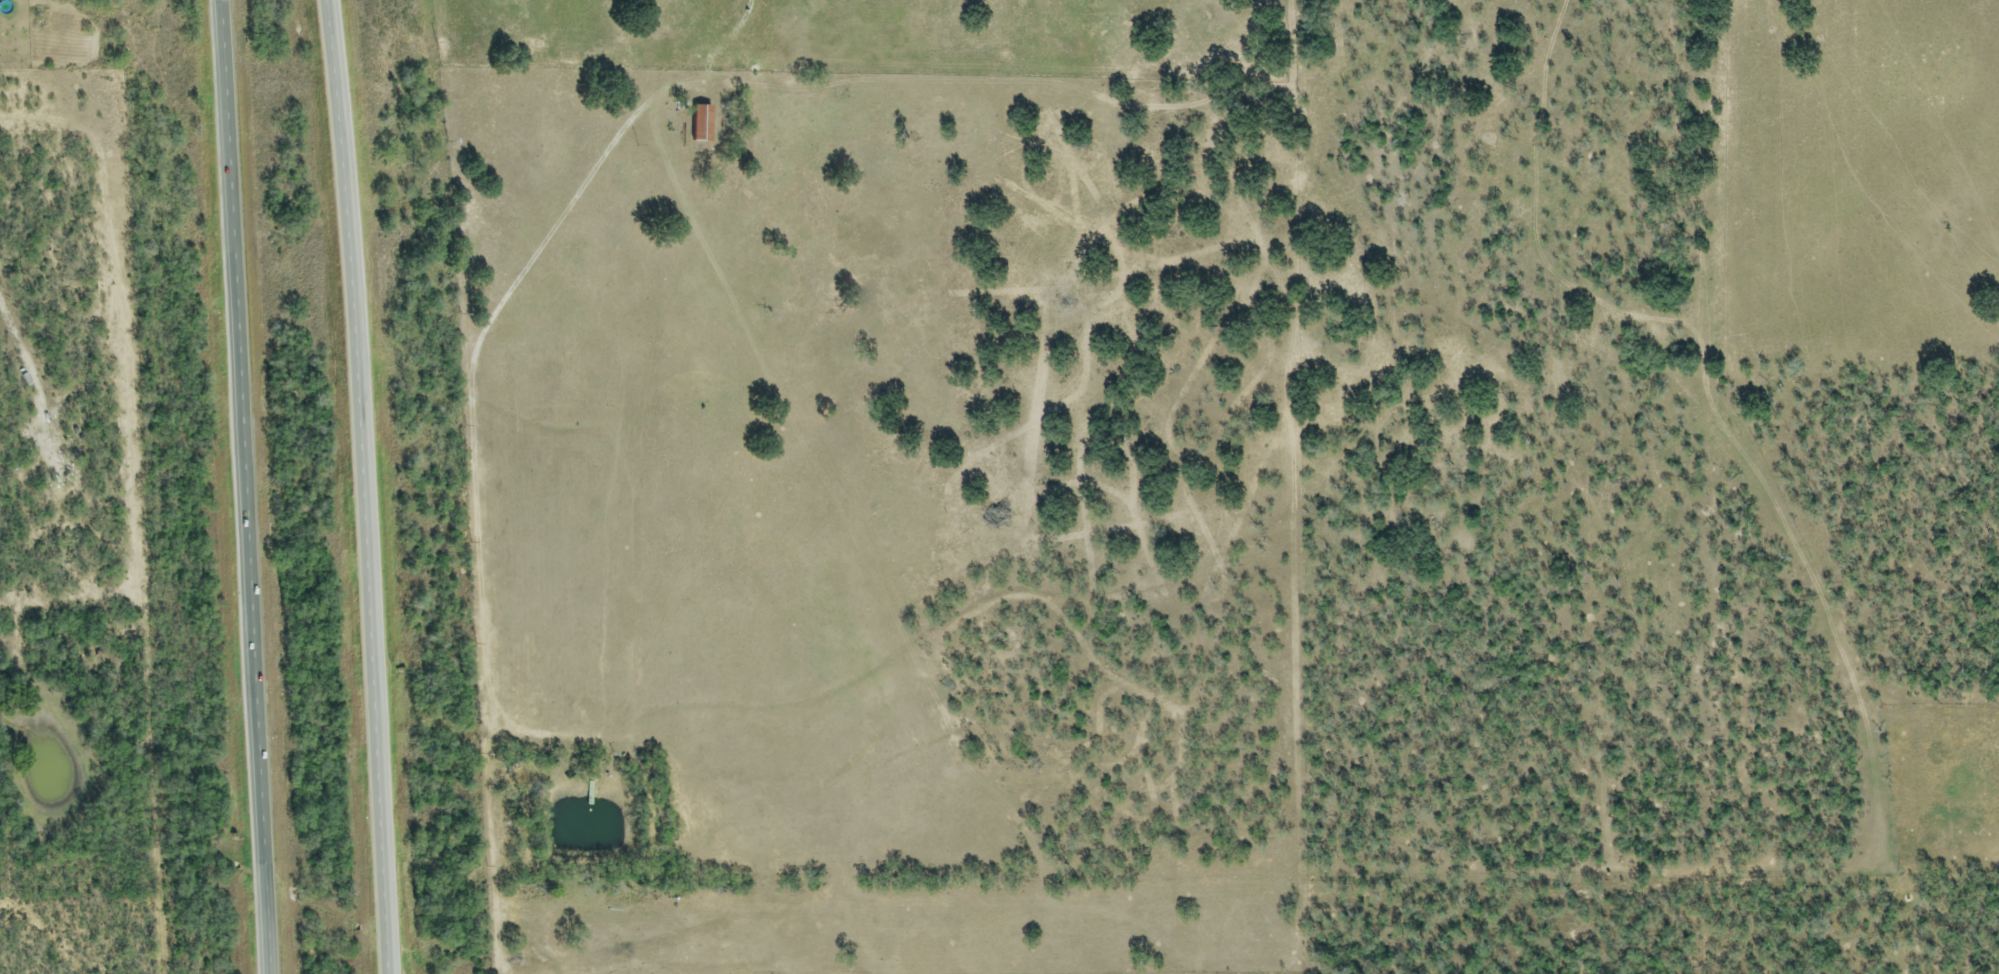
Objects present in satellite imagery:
building: (699, 123)
road: (253, 486)
road: (374, 486)

